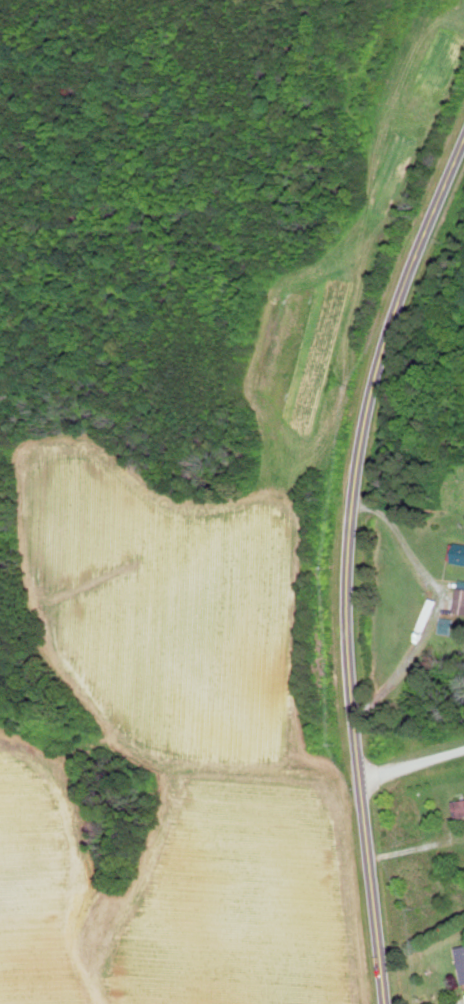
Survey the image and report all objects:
building: (457, 553)
road: (352, 561)
building: (461, 601)
building: (448, 625)
road: (411, 766)
building: (460, 806)
building: (461, 956)
road: (47, 973)

